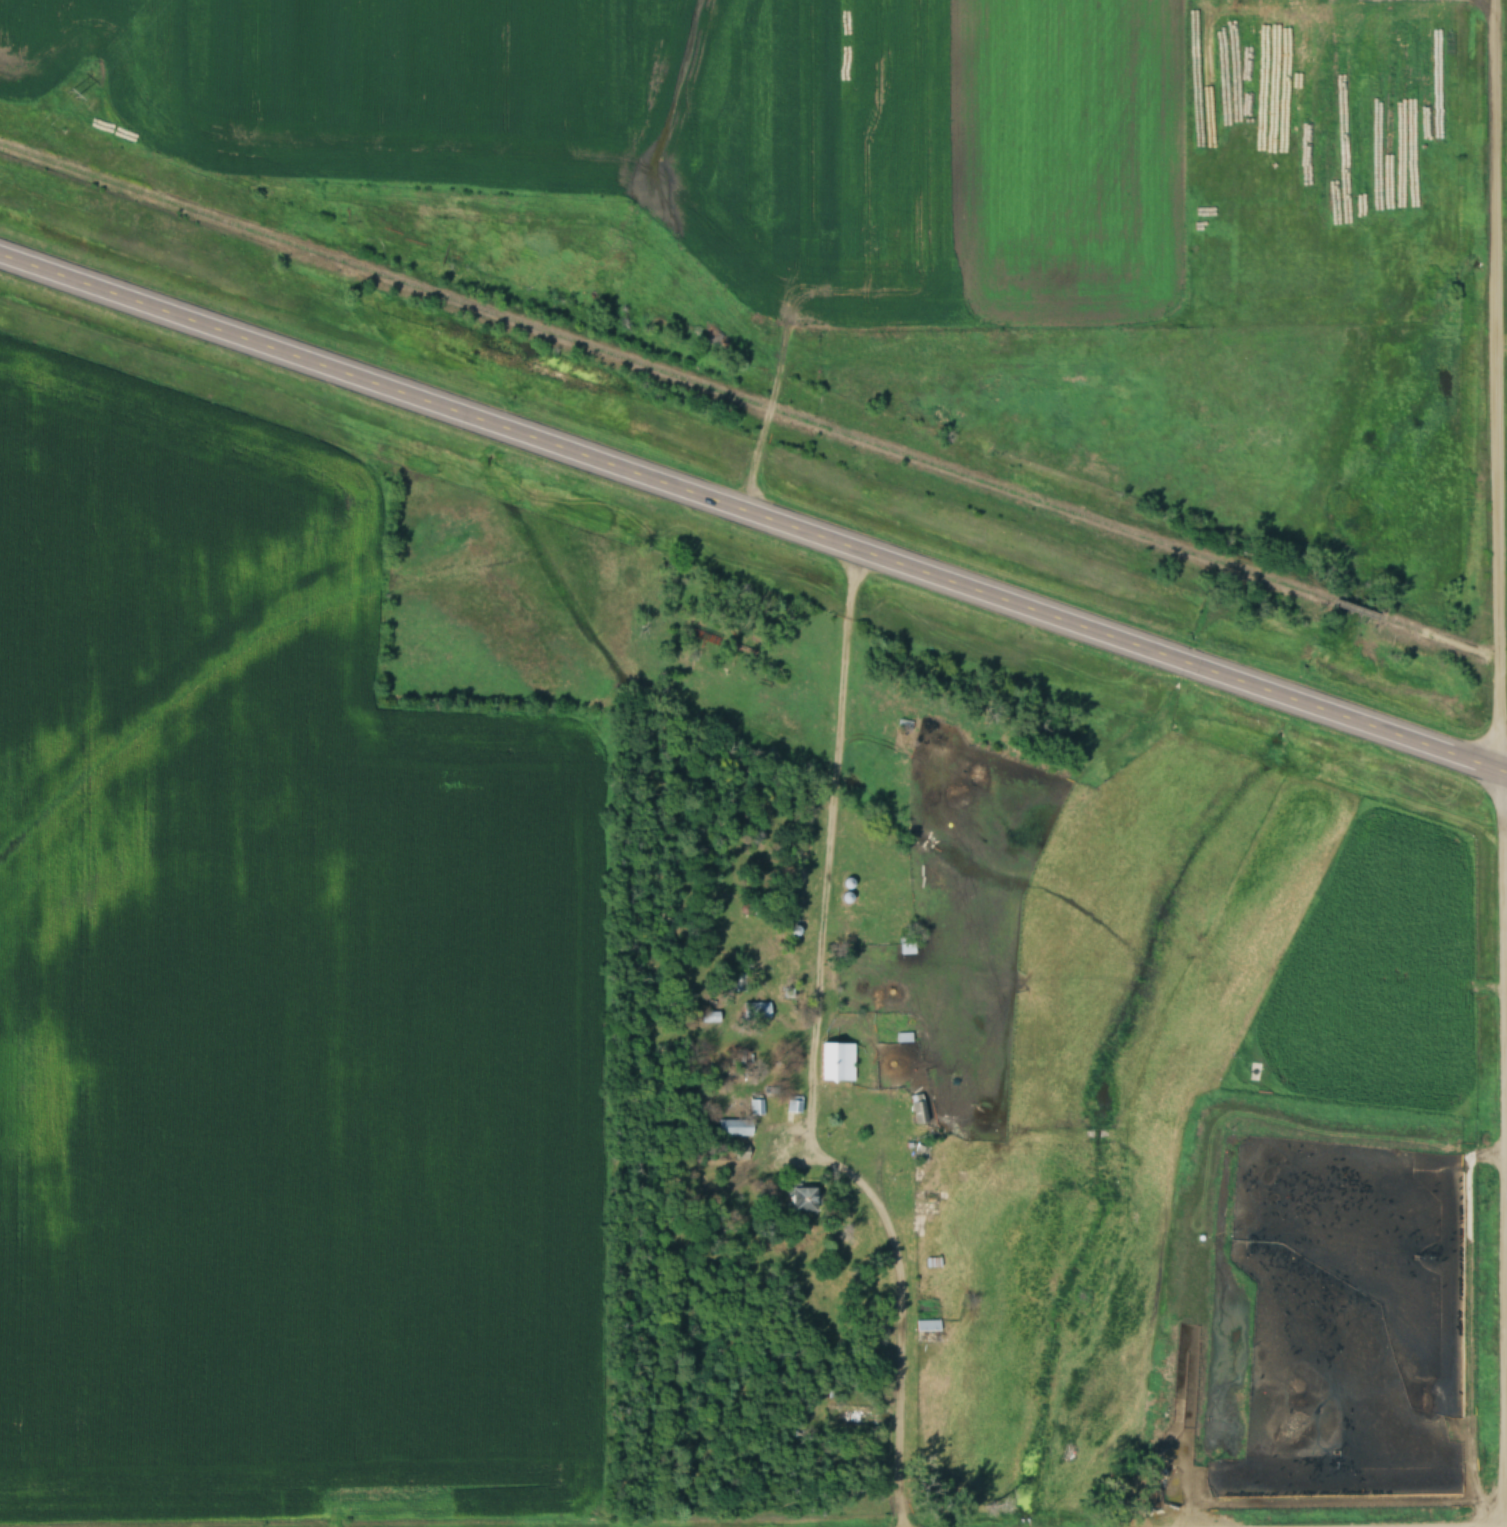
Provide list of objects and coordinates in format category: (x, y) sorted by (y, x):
power tower: (72, 92)
road: (779, 256)
railway: (664, 371)
road: (753, 512)
railway: (1353, 609)
railway: (1442, 639)
building: (904, 722)
road: (1502, 763)
building: (795, 906)
building: (755, 1009)
building: (709, 1016)
road: (815, 1053)
building: (836, 1060)
building: (793, 1103)
building: (917, 1108)
road: (878, 1124)
building: (733, 1125)
building: (801, 1197)
building: (932, 1266)
building: (927, 1328)

